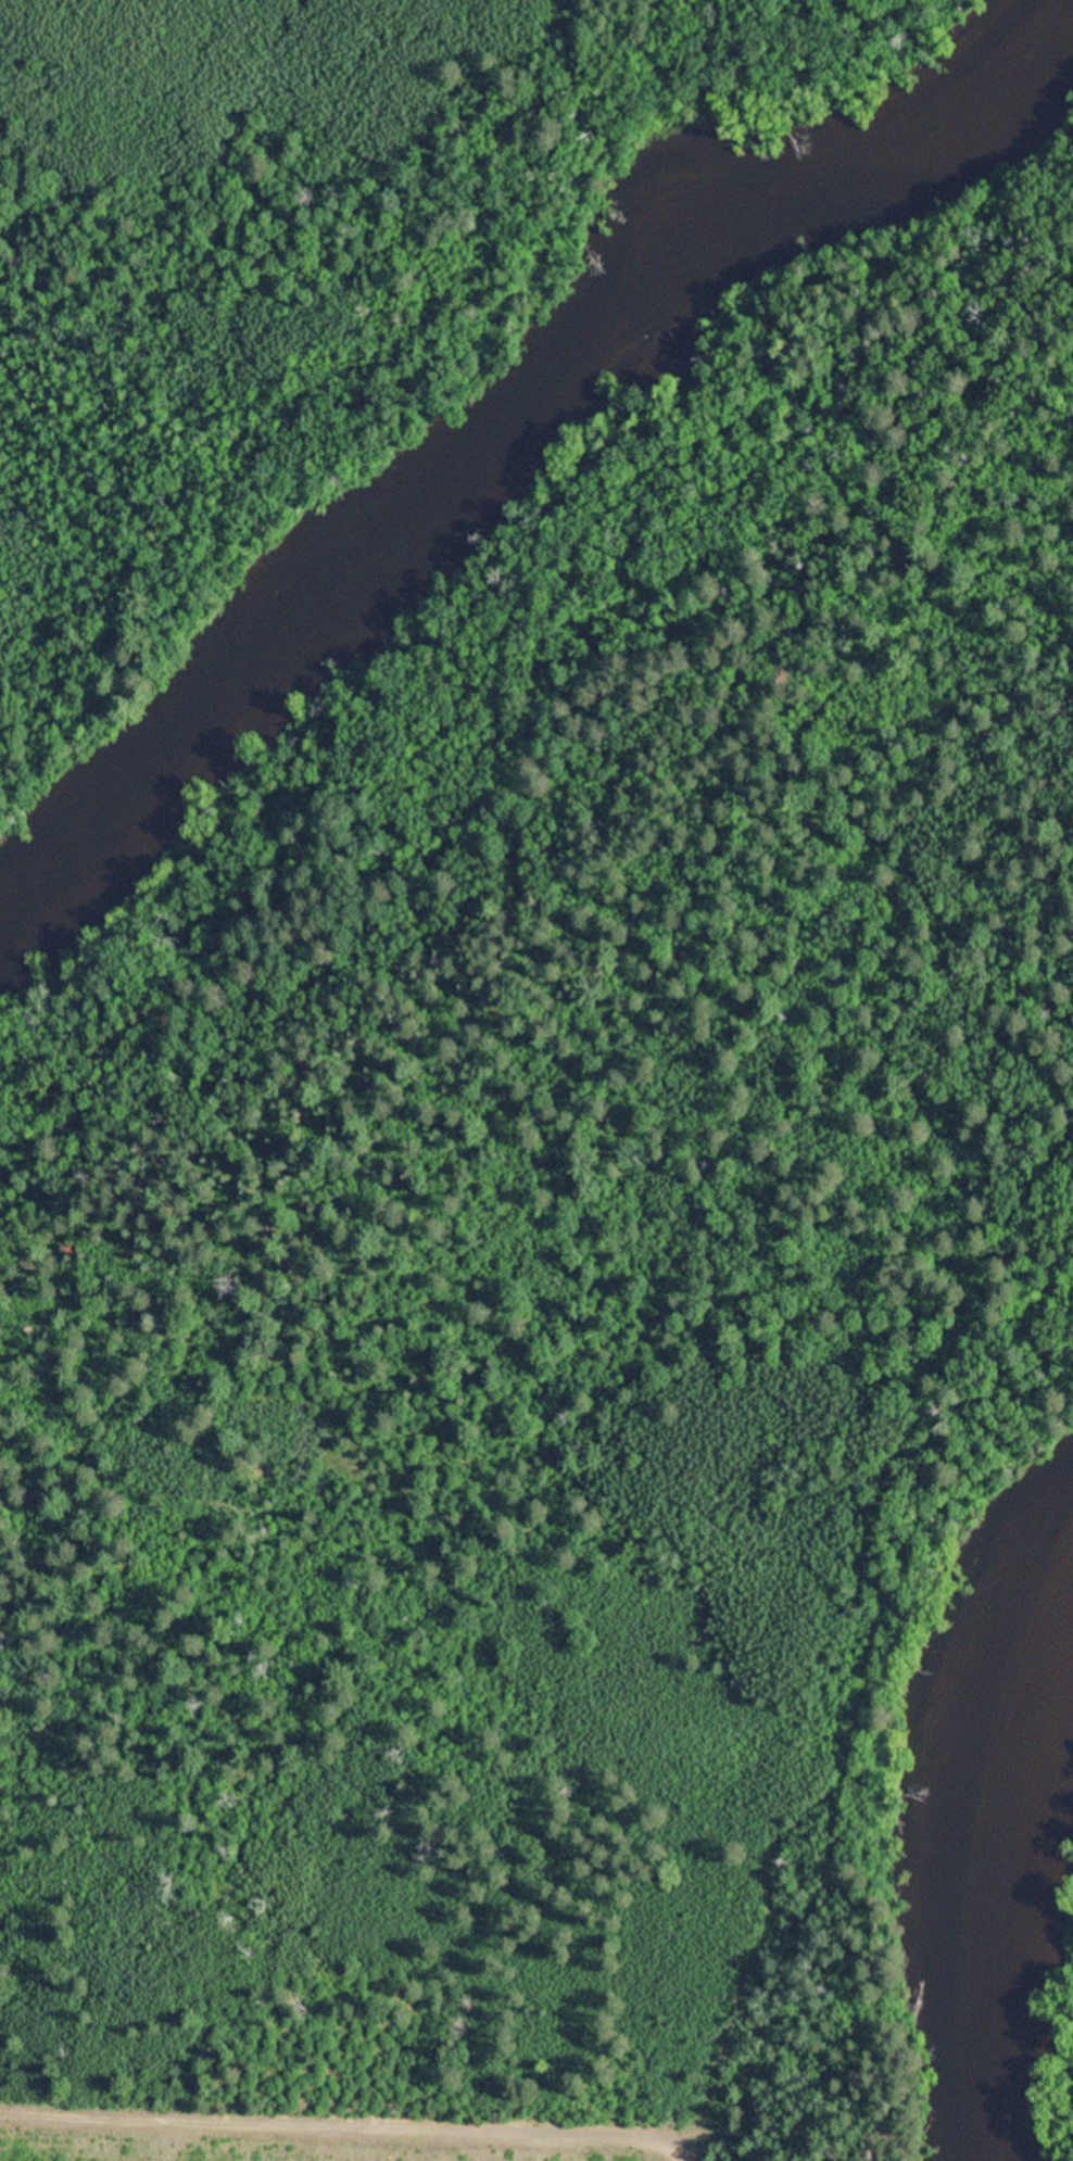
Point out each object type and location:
river: (512, 432)
river: (986, 1859)
road: (345, 2125)

